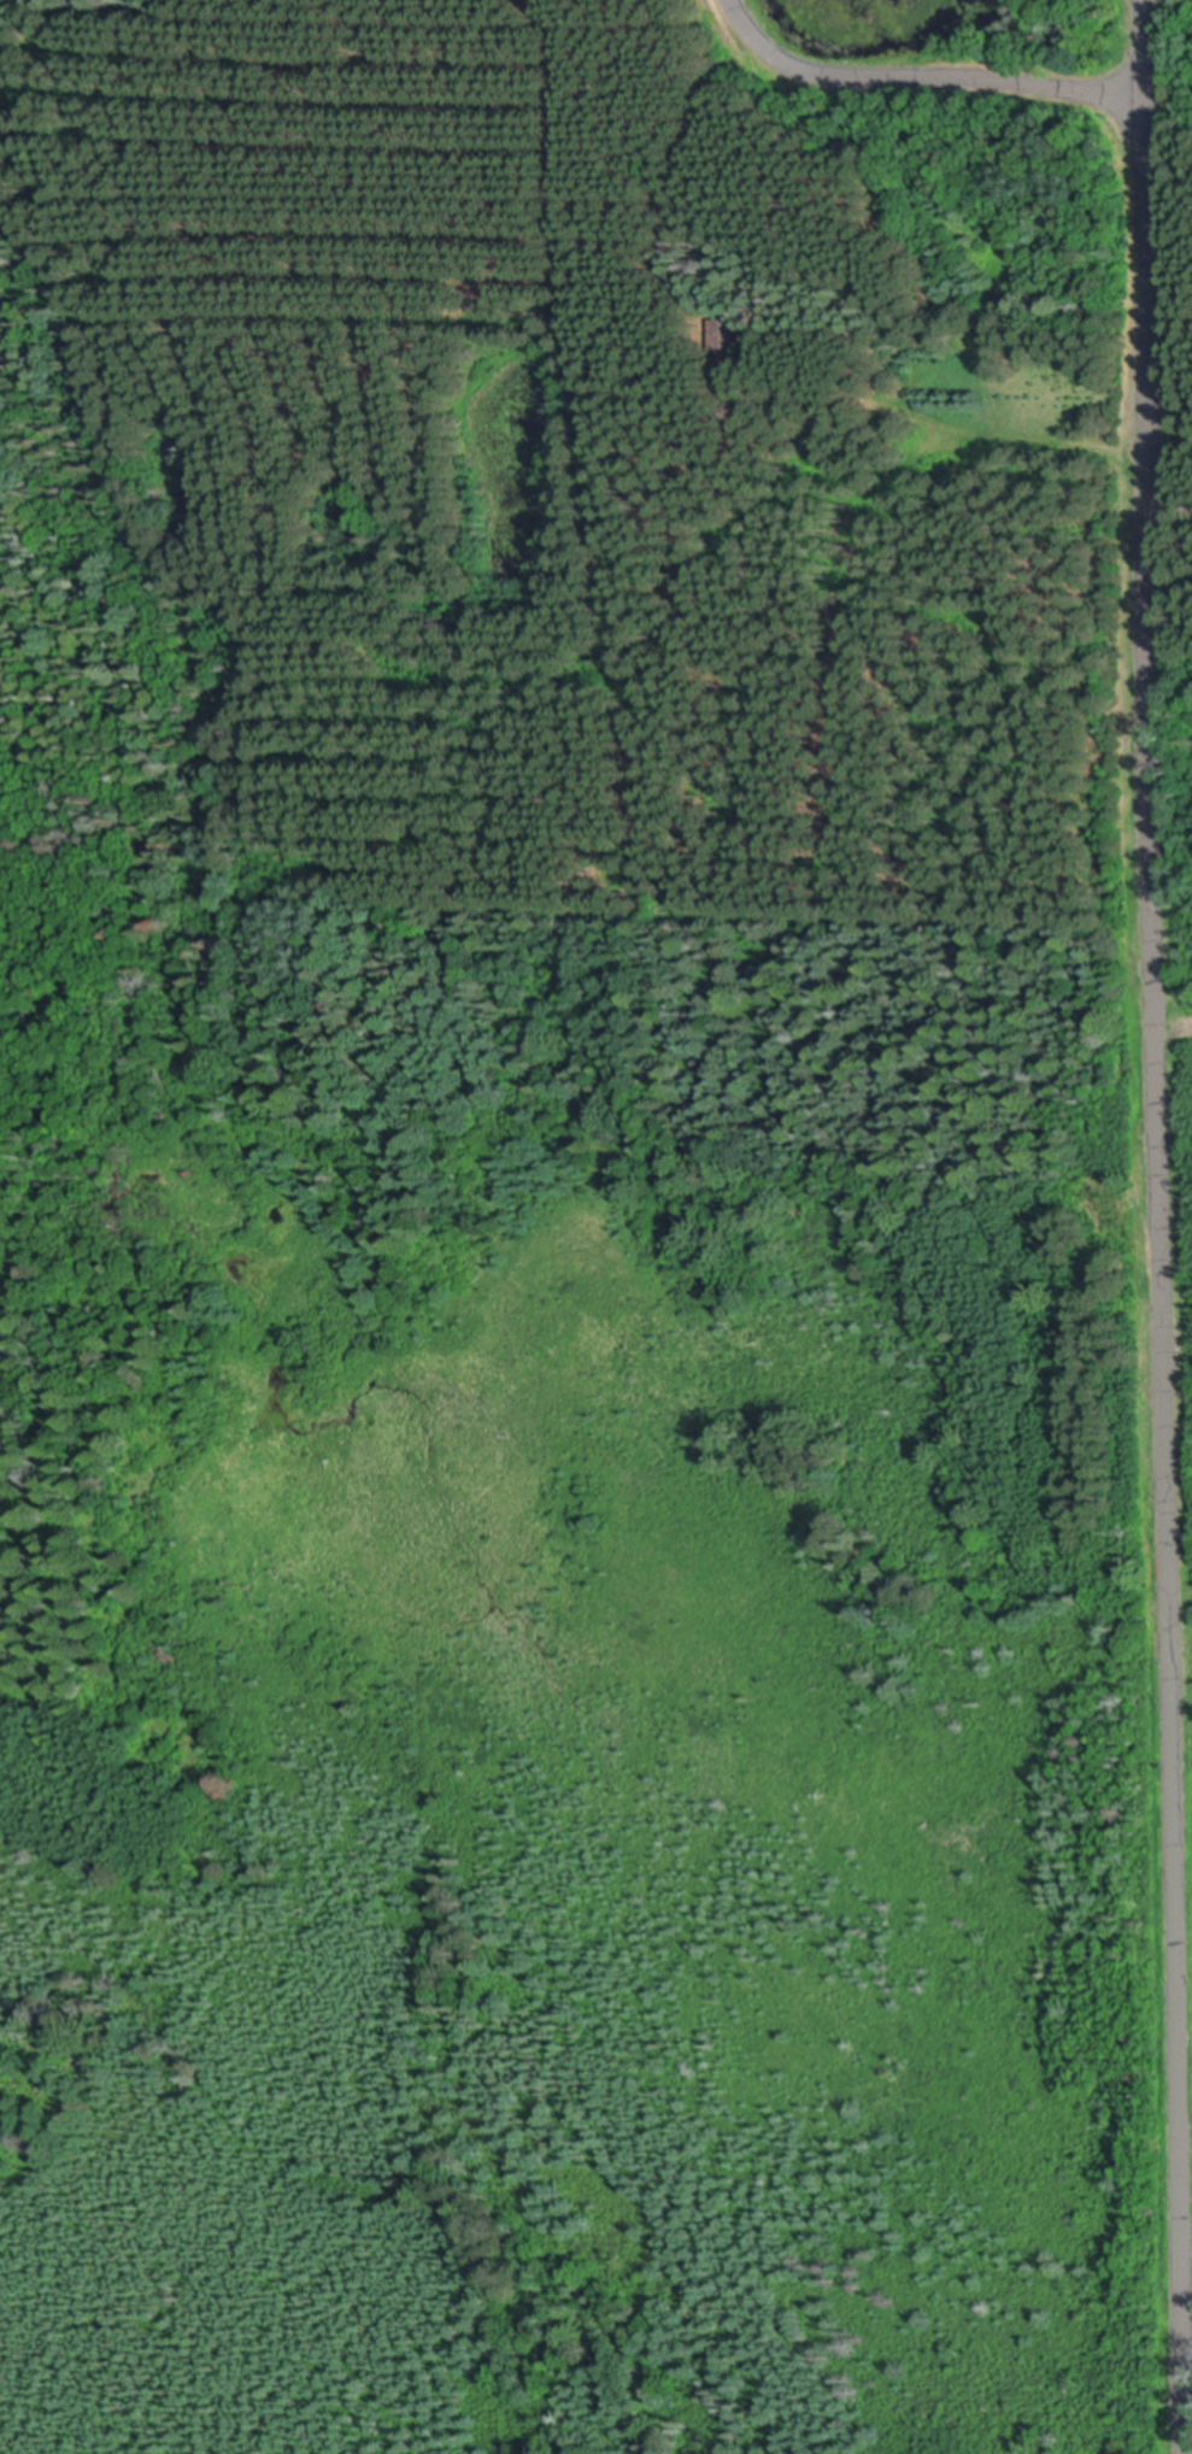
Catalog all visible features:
road: (922, 76)
road: (1156, 1227)

